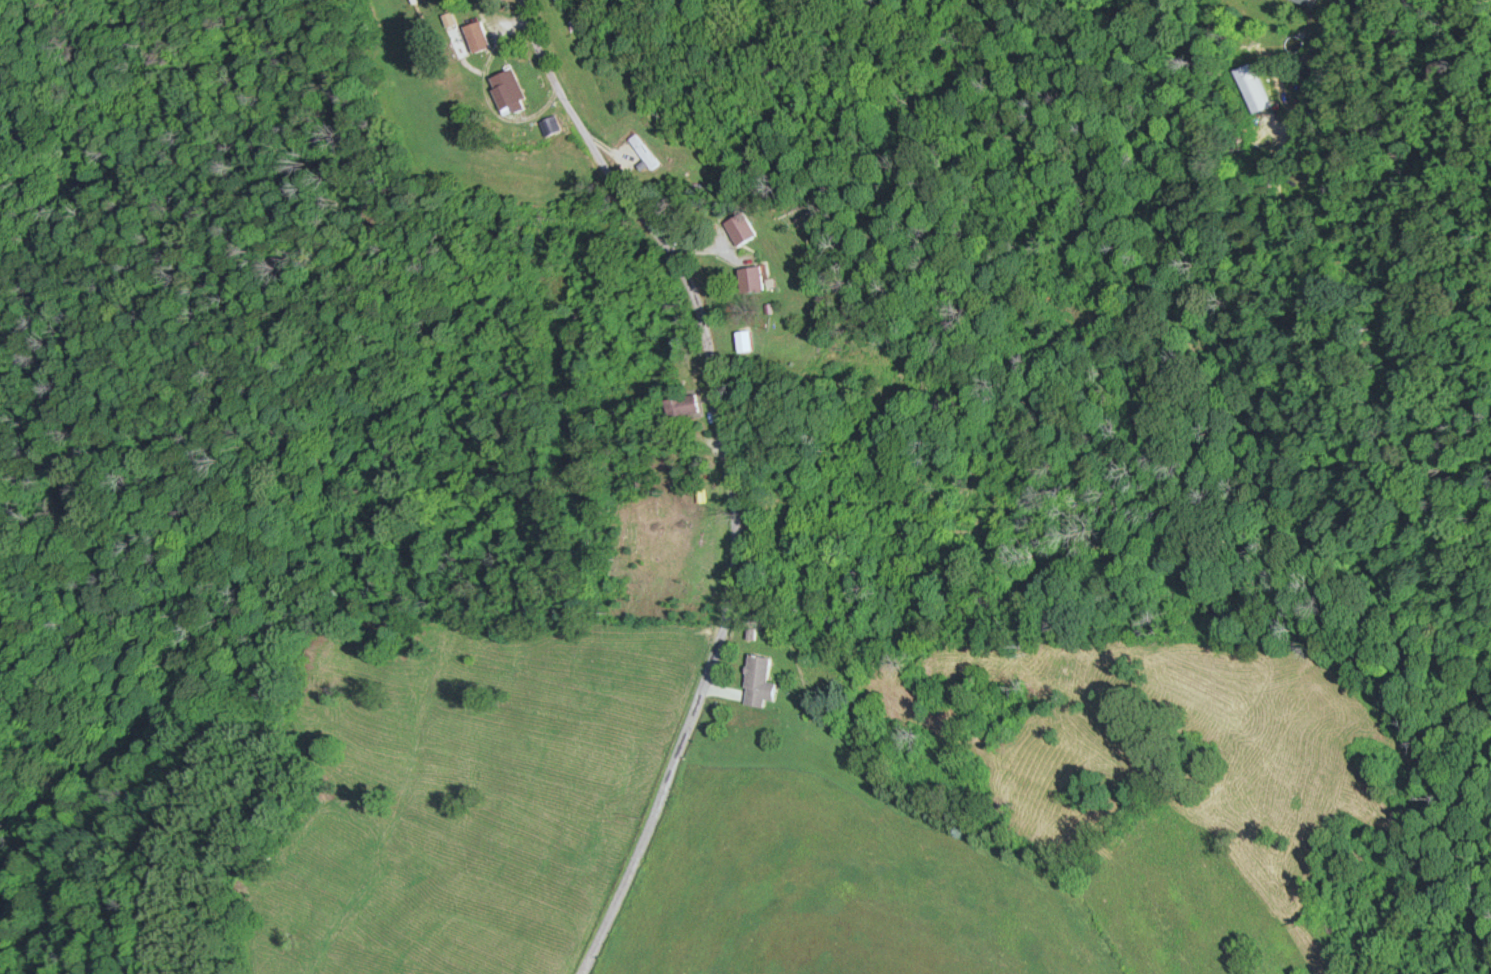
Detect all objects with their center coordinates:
building: (1305, 2)
building: (478, 36)
building: (509, 92)
building: (551, 126)
building: (646, 151)
building: (741, 229)
building: (753, 279)
building: (747, 341)
building: (685, 405)
road: (732, 475)
building: (761, 682)

